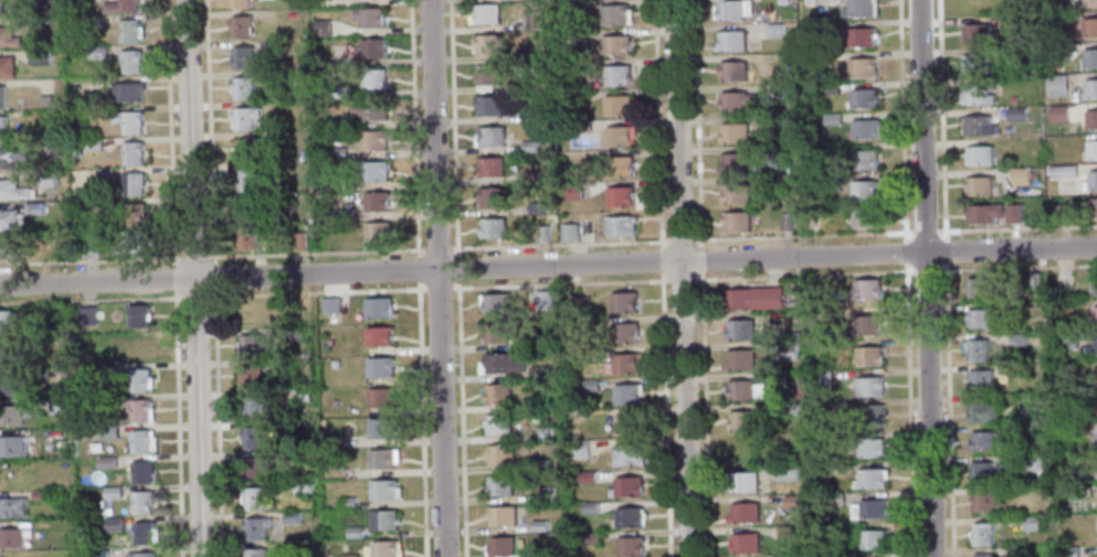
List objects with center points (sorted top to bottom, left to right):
building: (783, 2)
building: (809, 2)
building: (1088, 2)
building: (240, 3)
building: (566, 6)
building: (2, 7)
building: (120, 7)
building: (44, 8)
building: (856, 9)
building: (732, 10)
building: (483, 15)
building: (614, 15)
building: (368, 17)
building: (1054, 19)
building: (91, 21)
building: (531, 21)
building: (1009, 21)
building: (241, 26)
building: (826, 26)
building: (1089, 26)
building: (320, 28)
building: (774, 30)
building: (128, 31)
building: (978, 33)
building: (859, 38)
building: (8, 39)
building: (730, 42)
building: (488, 45)
building: (272, 46)
building: (611, 46)
building: (371, 47)
building: (96, 52)
building: (531, 53)
building: (38, 56)
building: (242, 57)
building: (1089, 58)
building: (129, 62)
building: (974, 63)
building: (577, 66)
building: (6, 67)
building: (862, 68)
building: (732, 72)
building: (274, 76)
building: (487, 76)
building: (613, 76)
building: (372, 78)
building: (528, 86)
building: (1055, 86)
building: (242, 87)
building: (1090, 88)
building: (779, 90)
building: (129, 92)
building: (338, 92)
building: (974, 94)
building: (1, 98)
building: (863, 98)
building: (1012, 99)
building: (44, 100)
building: (736, 101)
building: (488, 106)
building: (618, 106)
building: (370, 110)
building: (1015, 114)
building: (1057, 115)
building: (528, 116)
building: (244, 117)
building: (831, 118)
building: (1090, 118)
road: (940, 119)
building: (780, 121)
building: (128, 122)
building: (323, 122)
road: (657, 122)
building: (978, 124)
road: (453, 126)
road: (920, 126)
road: (414, 127)
building: (1, 128)
building: (864, 129)
road: (170, 131)
road: (209, 131)
road: (676, 131)
building: (735, 133)
building: (491, 137)
building: (616, 137)
building: (373, 141)
building: (91, 144)
building: (50, 147)
building: (529, 147)
building: (245, 148)
building: (1091, 150)
building: (773, 151)
building: (337, 152)
building: (130, 153)
building: (979, 154)
building: (11, 157)
building: (863, 159)
building: (735, 163)
building: (489, 167)
building: (619, 167)
building: (373, 171)
building: (1061, 171)
building: (102, 173)
building: (1020, 175)
building: (529, 176)
building: (45, 180)
building: (245, 180)
building: (1091, 180)
building: (770, 183)
building: (133, 184)
building: (346, 184)
building: (978, 186)
building: (12, 191)
building: (573, 191)
building: (864, 192)
building: (735, 193)
building: (620, 197)
building: (491, 199)
building: (377, 202)
building: (1093, 206)
building: (537, 207)
building: (32, 208)
building: (246, 210)
building: (344, 211)
building: (1013, 212)
building: (1058, 212)
building: (983, 213)
building: (131, 215)
building: (864, 219)
building: (10, 221)
building: (787, 222)
building: (736, 223)
building: (621, 226)
building: (492, 229)
road: (883, 232)
building: (377, 233)
building: (568, 233)
building: (541, 234)
building: (247, 237)
building: (299, 240)
road: (559, 243)
building: (130, 245)
road: (943, 245)
building: (88, 246)
building: (8, 248)
road: (437, 248)
road: (314, 250)
road: (192, 258)
road: (91, 260)
road: (548, 265)
road: (457, 267)
road: (419, 268)
road: (212, 276)
road: (774, 276)
road: (175, 277)
road: (193, 278)
road: (436, 278)
road: (699, 278)
road: (905, 278)
building: (1094, 286)
road: (437, 288)
building: (983, 288)
building: (866, 289)
road: (316, 292)
road: (194, 297)
building: (755, 299)
road: (91, 300)
building: (542, 300)
building: (623, 302)
building: (494, 303)
building: (329, 304)
building: (580, 304)
building: (377, 308)
building: (86, 315)
building: (135, 317)
building: (1095, 317)
building: (979, 319)
building: (4, 322)
building: (868, 323)
building: (738, 330)
building: (624, 332)
building: (495, 333)
building: (378, 338)
building: (1019, 340)
building: (1066, 340)
building: (54, 343)
building: (101, 343)
building: (250, 347)
building: (1090, 349)
building: (137, 350)
building: (788, 351)
building: (977, 351)
building: (589, 353)
building: (10, 354)
building: (868, 354)
building: (739, 361)
building: (499, 364)
building: (622, 365)
building: (379, 368)
building: (104, 373)
building: (539, 374)
building: (1095, 377)
building: (251, 378)
building: (776, 378)
building: (821, 378)
building: (139, 381)
building: (980, 381)
building: (11, 384)
building: (590, 385)
building: (868, 385)
building: (743, 389)
building: (302, 394)
building: (494, 394)
building: (625, 395)
building: (380, 398)
road: (666, 400)
building: (102, 403)
building: (528, 404)
road: (928, 404)
road: (948, 404)
building: (837, 405)
building: (57, 406)
building: (255, 408)
building: (788, 408)
road: (685, 409)
building: (139, 411)
building: (983, 413)
building: (13, 414)
building: (871, 414)
road: (423, 418)
road: (462, 419)
building: (741, 420)
road: (178, 422)
road: (218, 422)
building: (497, 424)
building: (625, 425)
building: (381, 429)
building: (107, 432)
building: (1029, 432)
building: (545, 433)
building: (252, 439)
building: (141, 441)
building: (982, 441)
building: (11, 446)
building: (869, 448)
building: (579, 449)
building: (499, 454)
building: (626, 454)
building: (382, 459)
building: (105, 462)
building: (1032, 463)
building: (538, 464)
building: (252, 469)
building: (140, 472)
building: (787, 472)
building: (980, 474)
building: (587, 476)
building: (871, 478)
building: (742, 482)
building: (499, 485)
building: (303, 486)
building: (627, 486)
building: (384, 490)
building: (112, 493)
building: (548, 494)
building: (40, 496)
building: (835, 497)
building: (254, 499)
building: (791, 501)
building: (141, 502)
building: (346, 502)
building: (983, 502)
building: (589, 506)
building: (11, 507)
building: (868, 508)
building: (743, 514)
building: (502, 517)
building: (629, 517)
building: (291, 518)
building: (383, 521)
building: (114, 524)
building: (1031, 524)
building: (538, 526)
building: (255, 528)
building: (355, 532)
building: (784, 532)
building: (145, 533)
building: (982, 535)
building: (11, 538)
building: (591, 538)
building: (872, 539)
building: (745, 543)
building: (500, 547)
building: (631, 547)
building: (386, 549)
building: (1014, 551)
building: (1068, 551)
building: (255, 553)
building: (98, 554)
building: (536, 554)
building: (140, 555)
building: (838, 555)
building: (983, 555)
building: (349, 556)
building: (782, 556)

